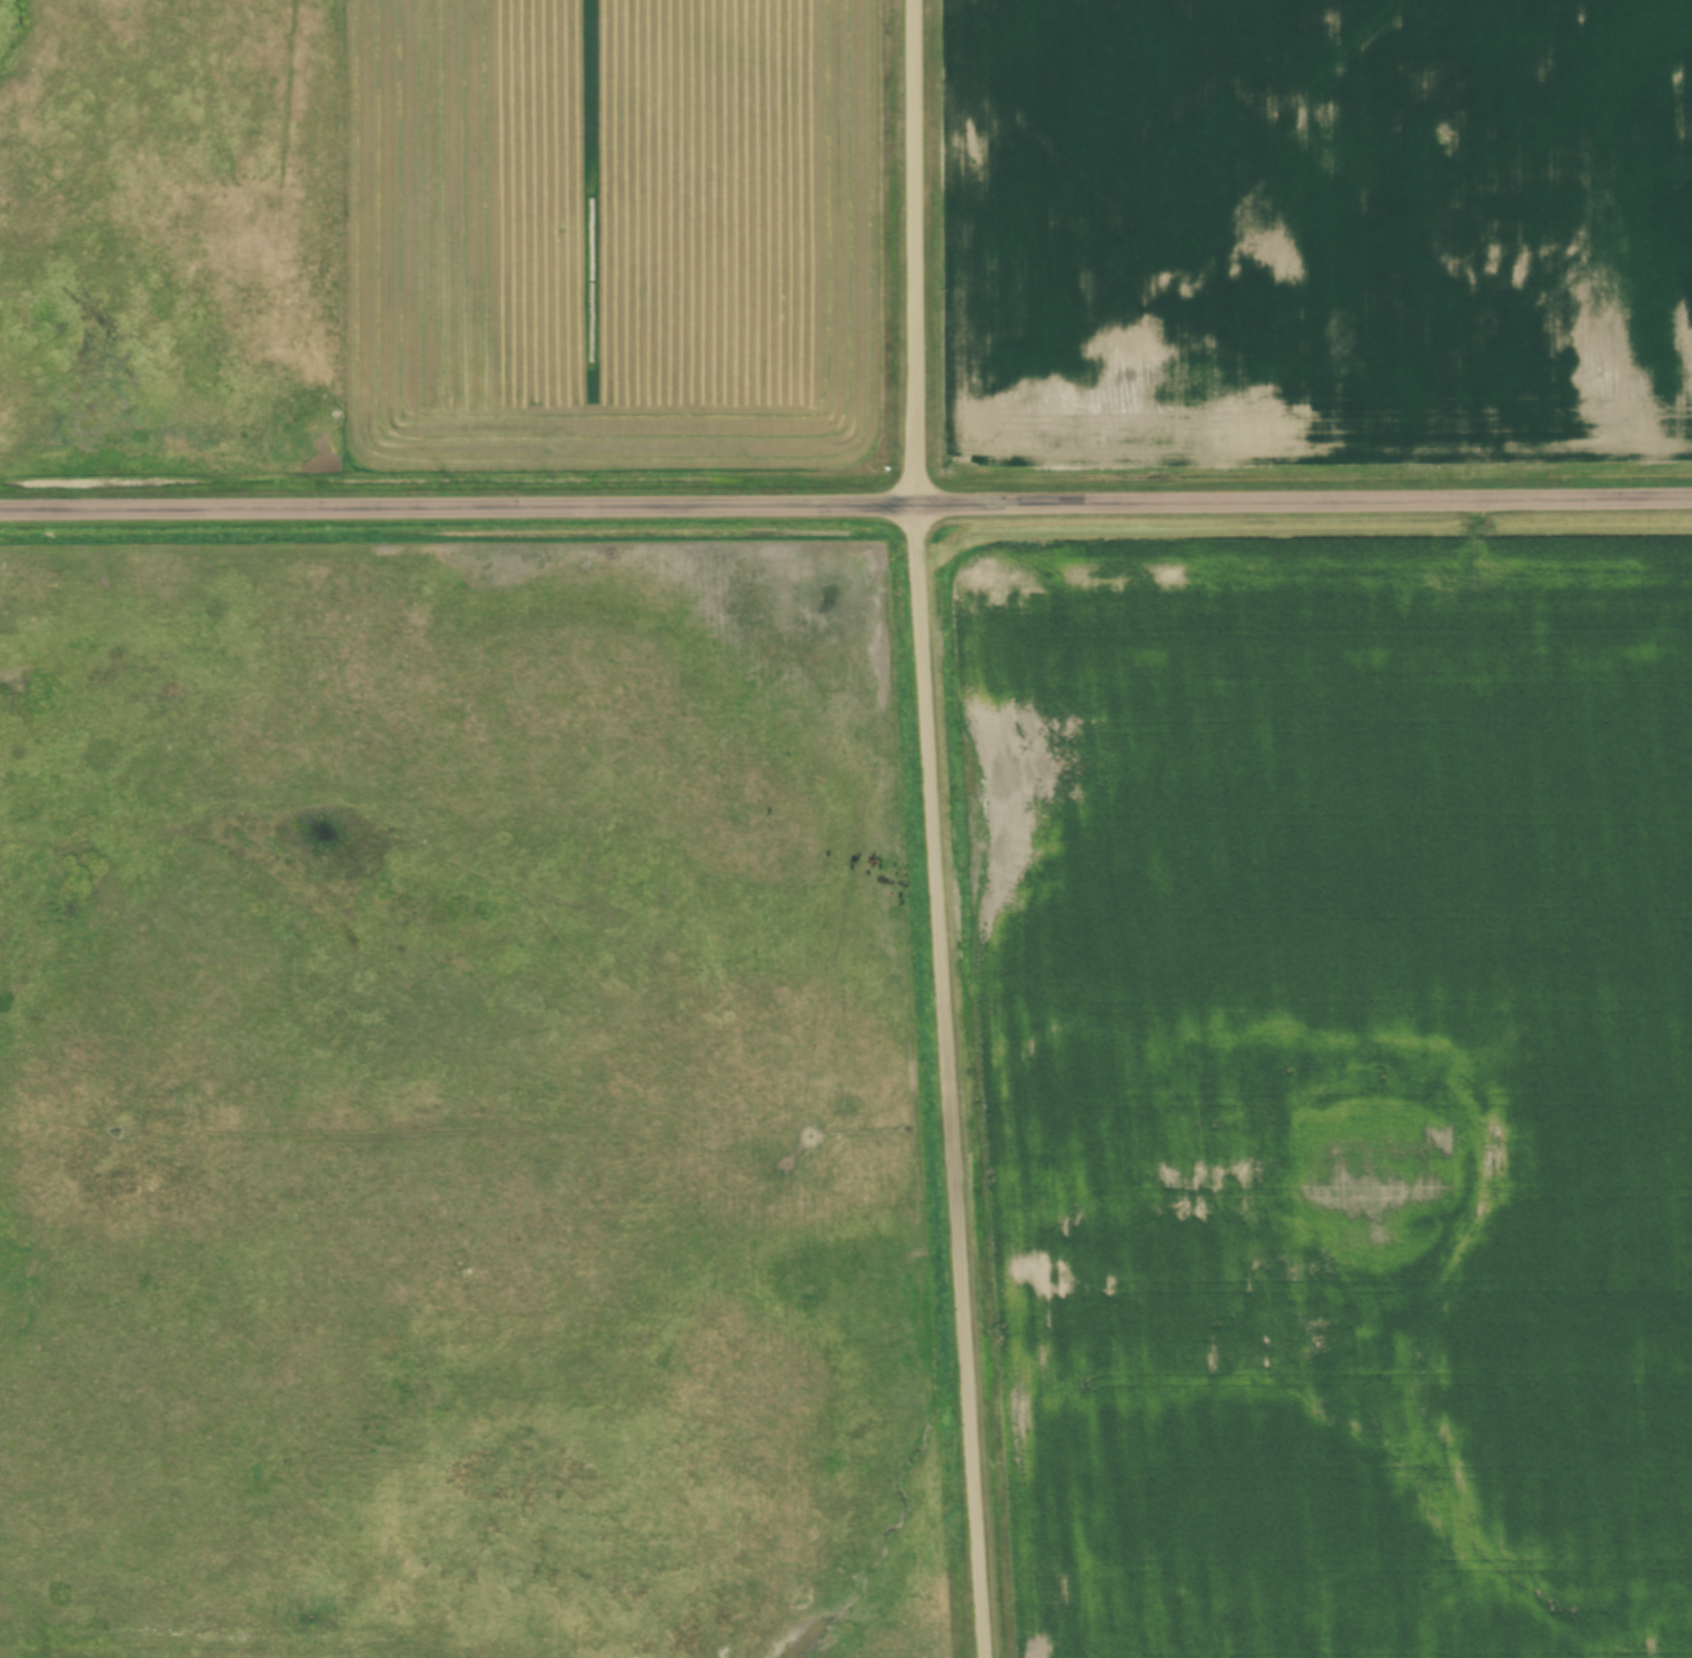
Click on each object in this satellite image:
road: (845, 499)
road: (934, 830)

